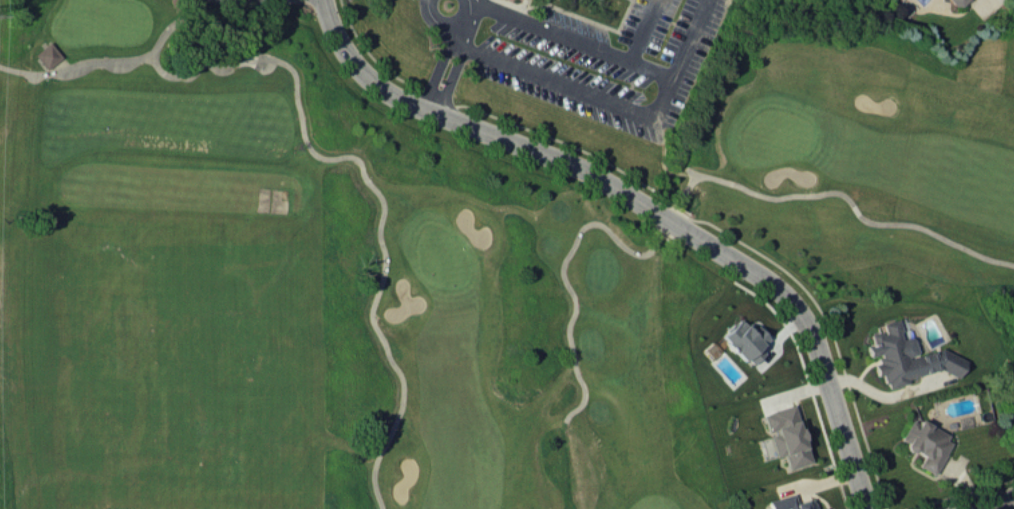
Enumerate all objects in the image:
building: (955, 0)
road: (465, 19)
road: (437, 22)
road: (643, 30)
road: (572, 38)
building: (47, 54)
road: (132, 58)
road: (680, 58)
parking lot: (603, 59)
road: (23, 70)
road: (436, 70)
road: (451, 76)
road: (555, 80)
road: (672, 169)
road: (377, 192)
road: (644, 204)
road: (675, 205)
road: (855, 207)
road: (563, 276)
building: (738, 341)
building: (905, 356)
road: (883, 393)
building: (1011, 409)
building: (786, 439)
building: (924, 443)
road: (992, 502)
building: (804, 506)
building: (826, 508)

